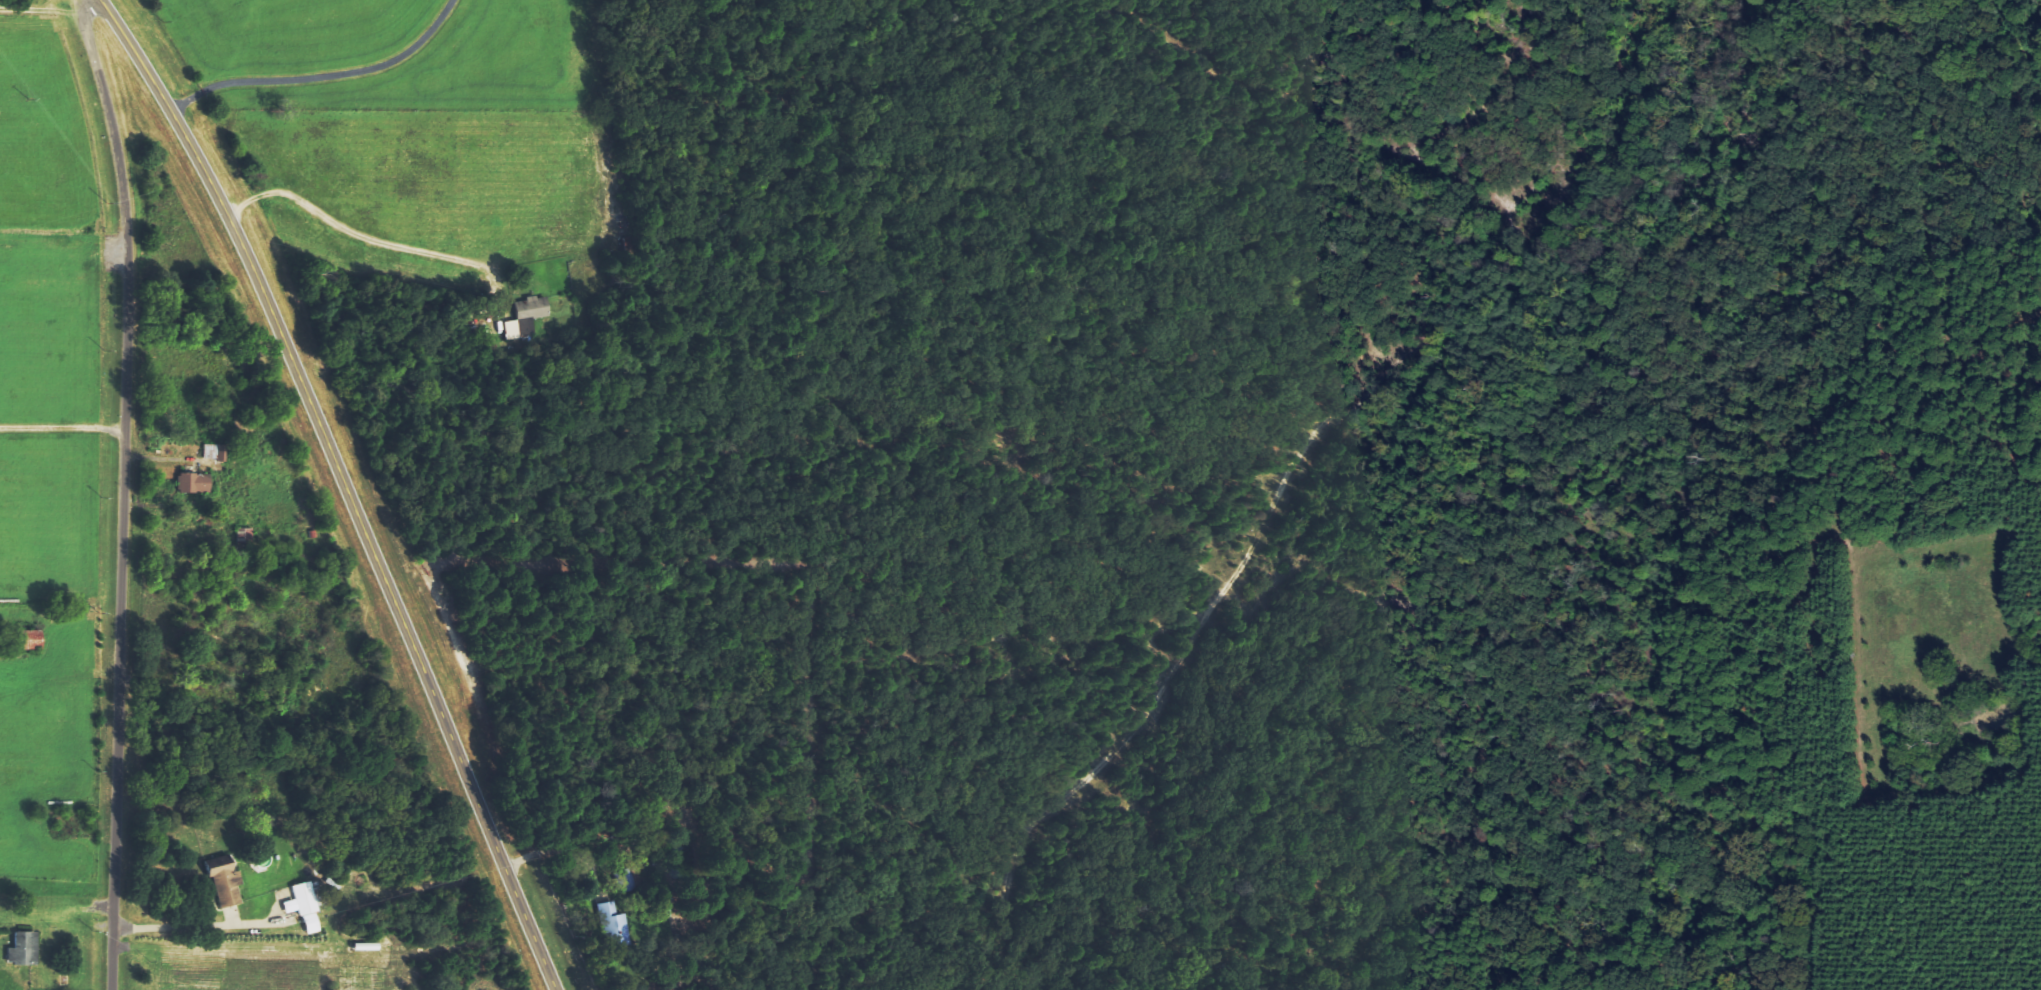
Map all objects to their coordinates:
road: (66, 10)
building: (531, 307)
building: (528, 327)
building: (512, 330)
road: (63, 428)
building: (191, 482)
road: (349, 485)
road: (125, 490)
building: (625, 880)
building: (226, 885)
building: (304, 906)
building: (612, 923)
road: (194, 926)
building: (24, 949)

